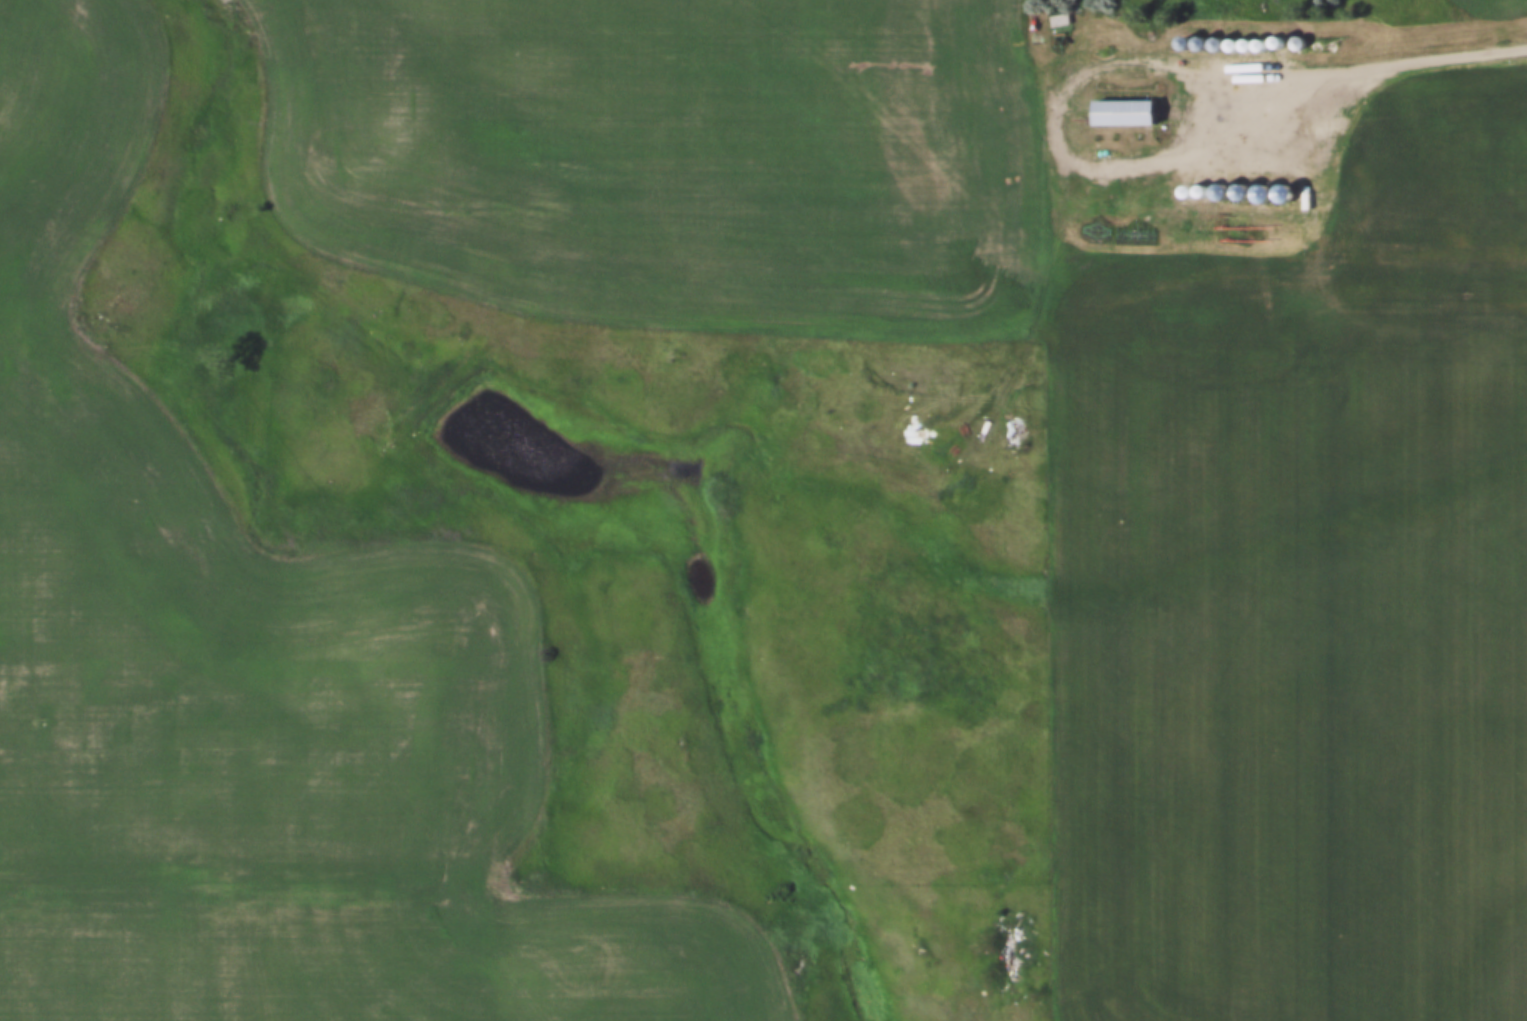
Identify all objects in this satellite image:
building: (1055, 12)
building: (1160, 32)
building: (1181, 35)
silo: (1181, 35)
building: (1198, 35)
silo: (1198, 35)
building: (1275, 35)
silo: (1275, 35)
building: (1294, 36)
silo: (1294, 36)
building: (1215, 37)
silo: (1215, 37)
building: (1231, 38)
silo: (1231, 38)
building: (1245, 38)
silo: (1245, 38)
building: (1259, 38)
silo: (1259, 38)
road: (1387, 67)
building: (1121, 105)
building: (1200, 183)
silo: (1200, 183)
building: (1185, 184)
silo: (1185, 184)
building: (1218, 184)
silo: (1218, 184)
building: (1239, 184)
silo: (1239, 184)
building: (1199, 200)

